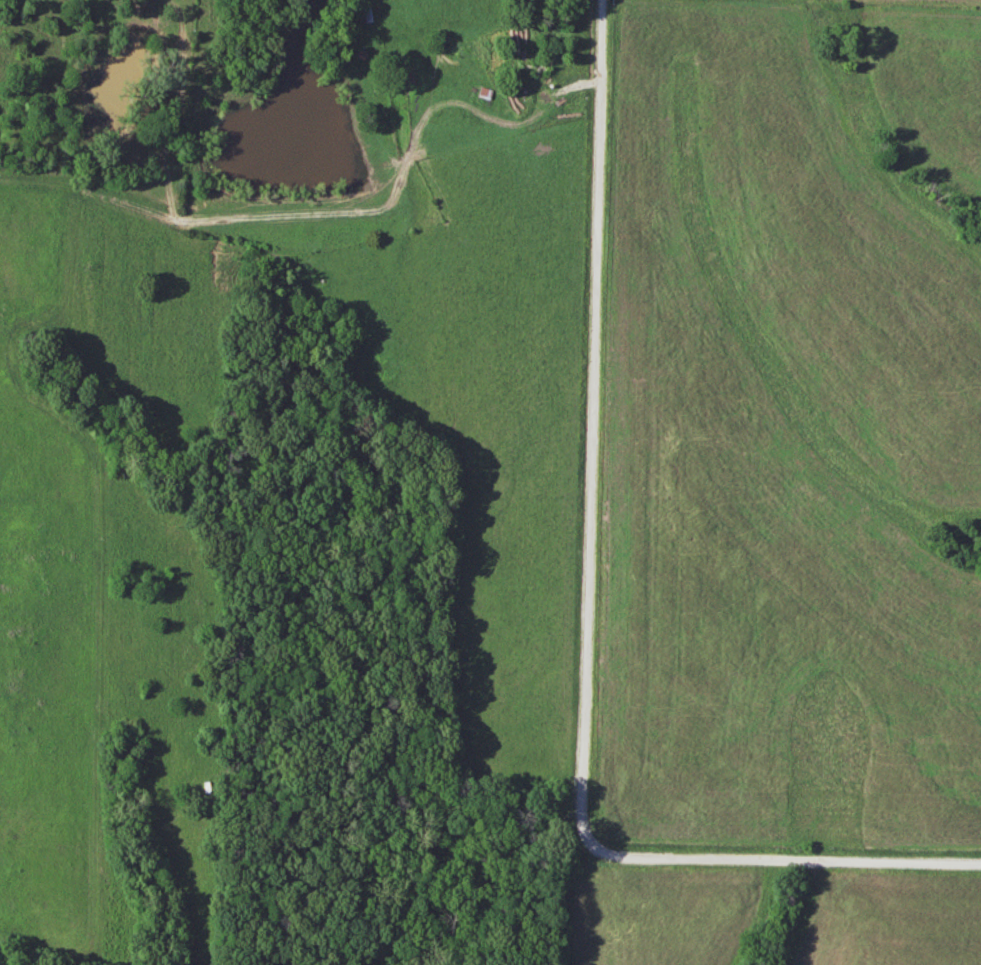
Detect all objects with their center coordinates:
building: (535, 59)
road: (588, 622)

